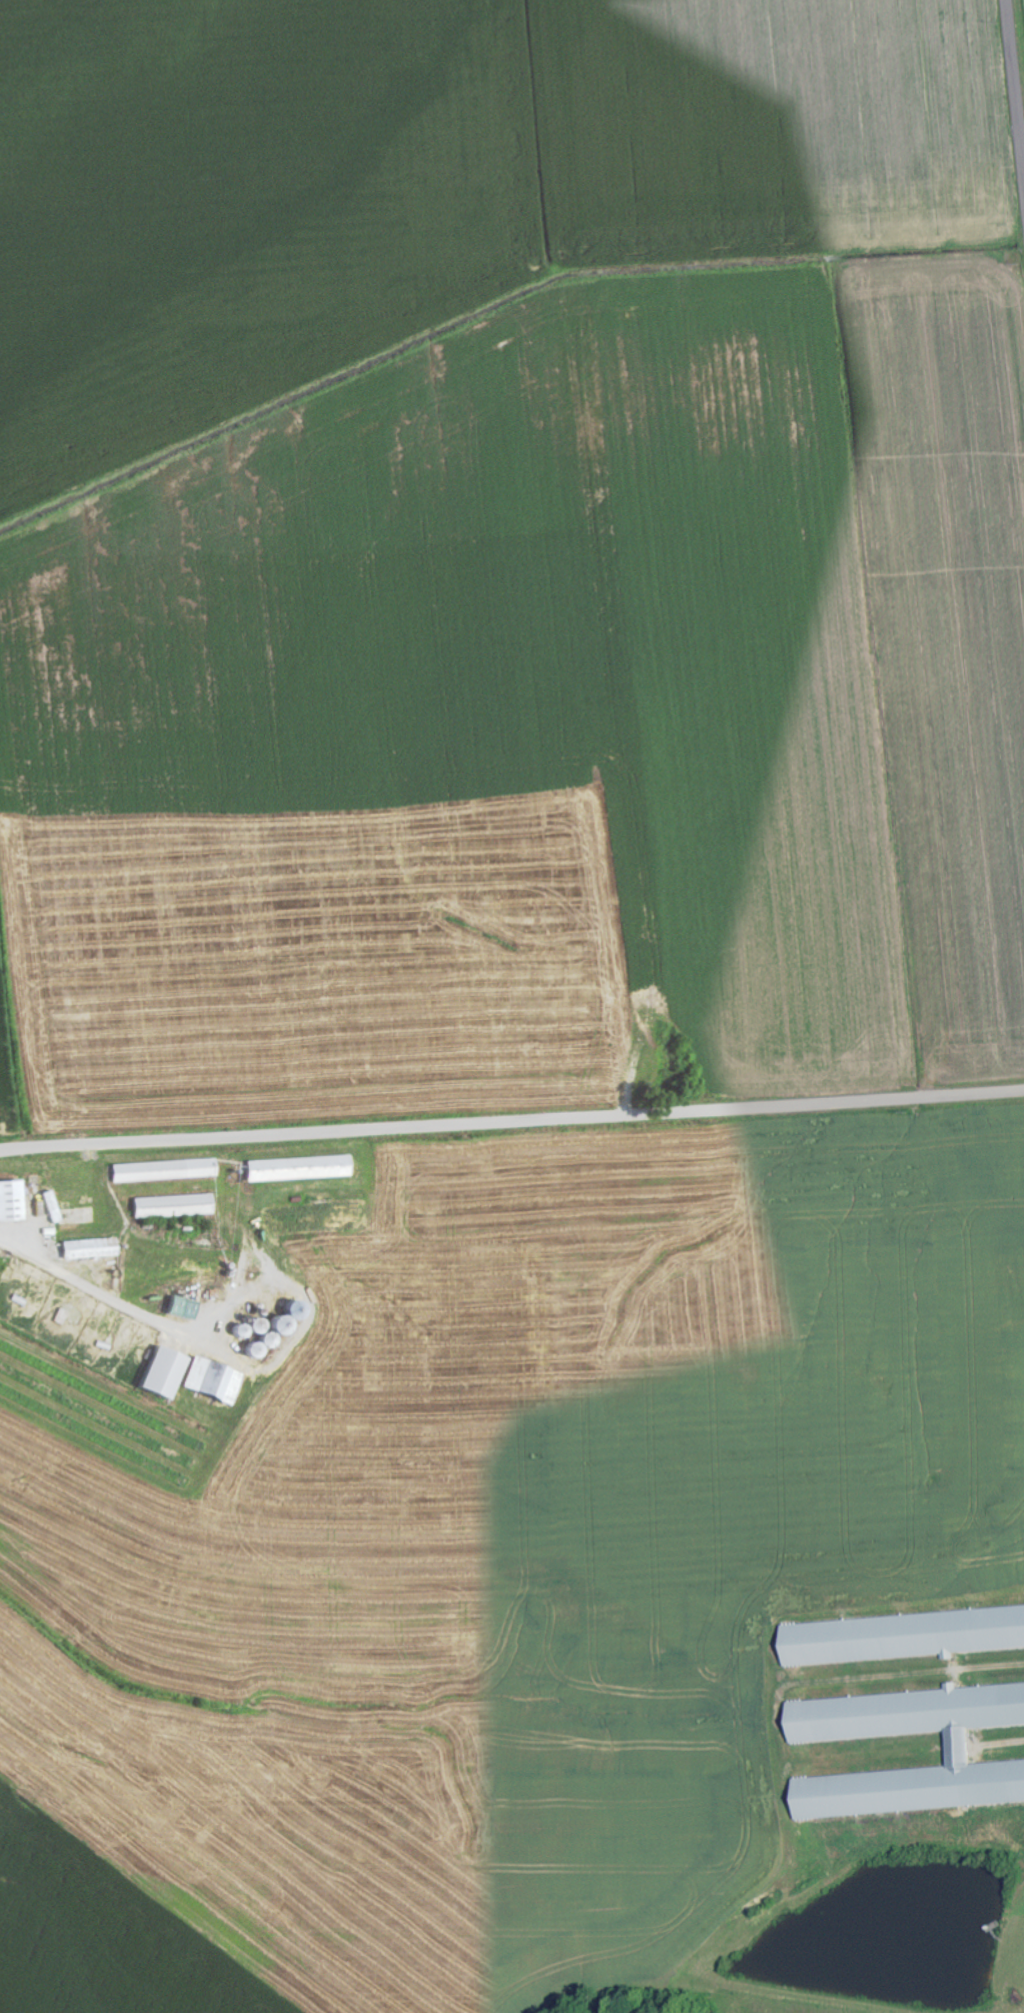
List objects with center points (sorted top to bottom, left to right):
road: (1014, 90)
road: (512, 1120)
building: (298, 1169)
building: (164, 1170)
building: (10, 1201)
building: (172, 1206)
building: (52, 1207)
building: (88, 1249)
road: (96, 1285)
building: (62, 1316)
building: (185, 1378)
building: (901, 1636)
building: (958, 1751)

